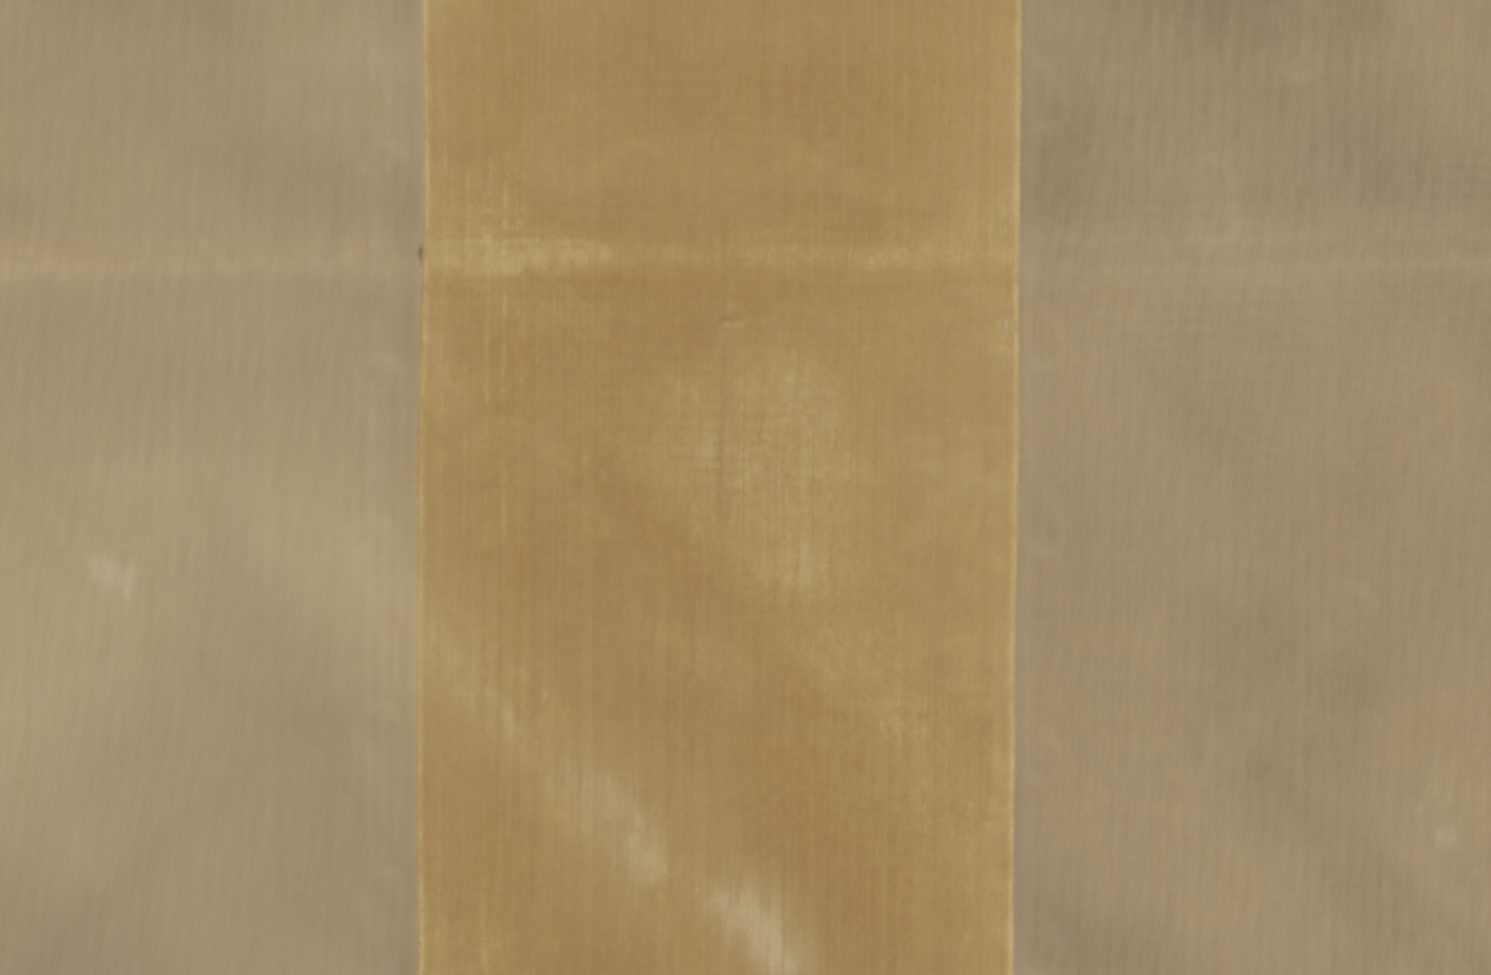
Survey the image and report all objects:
crop: (745, 487)

